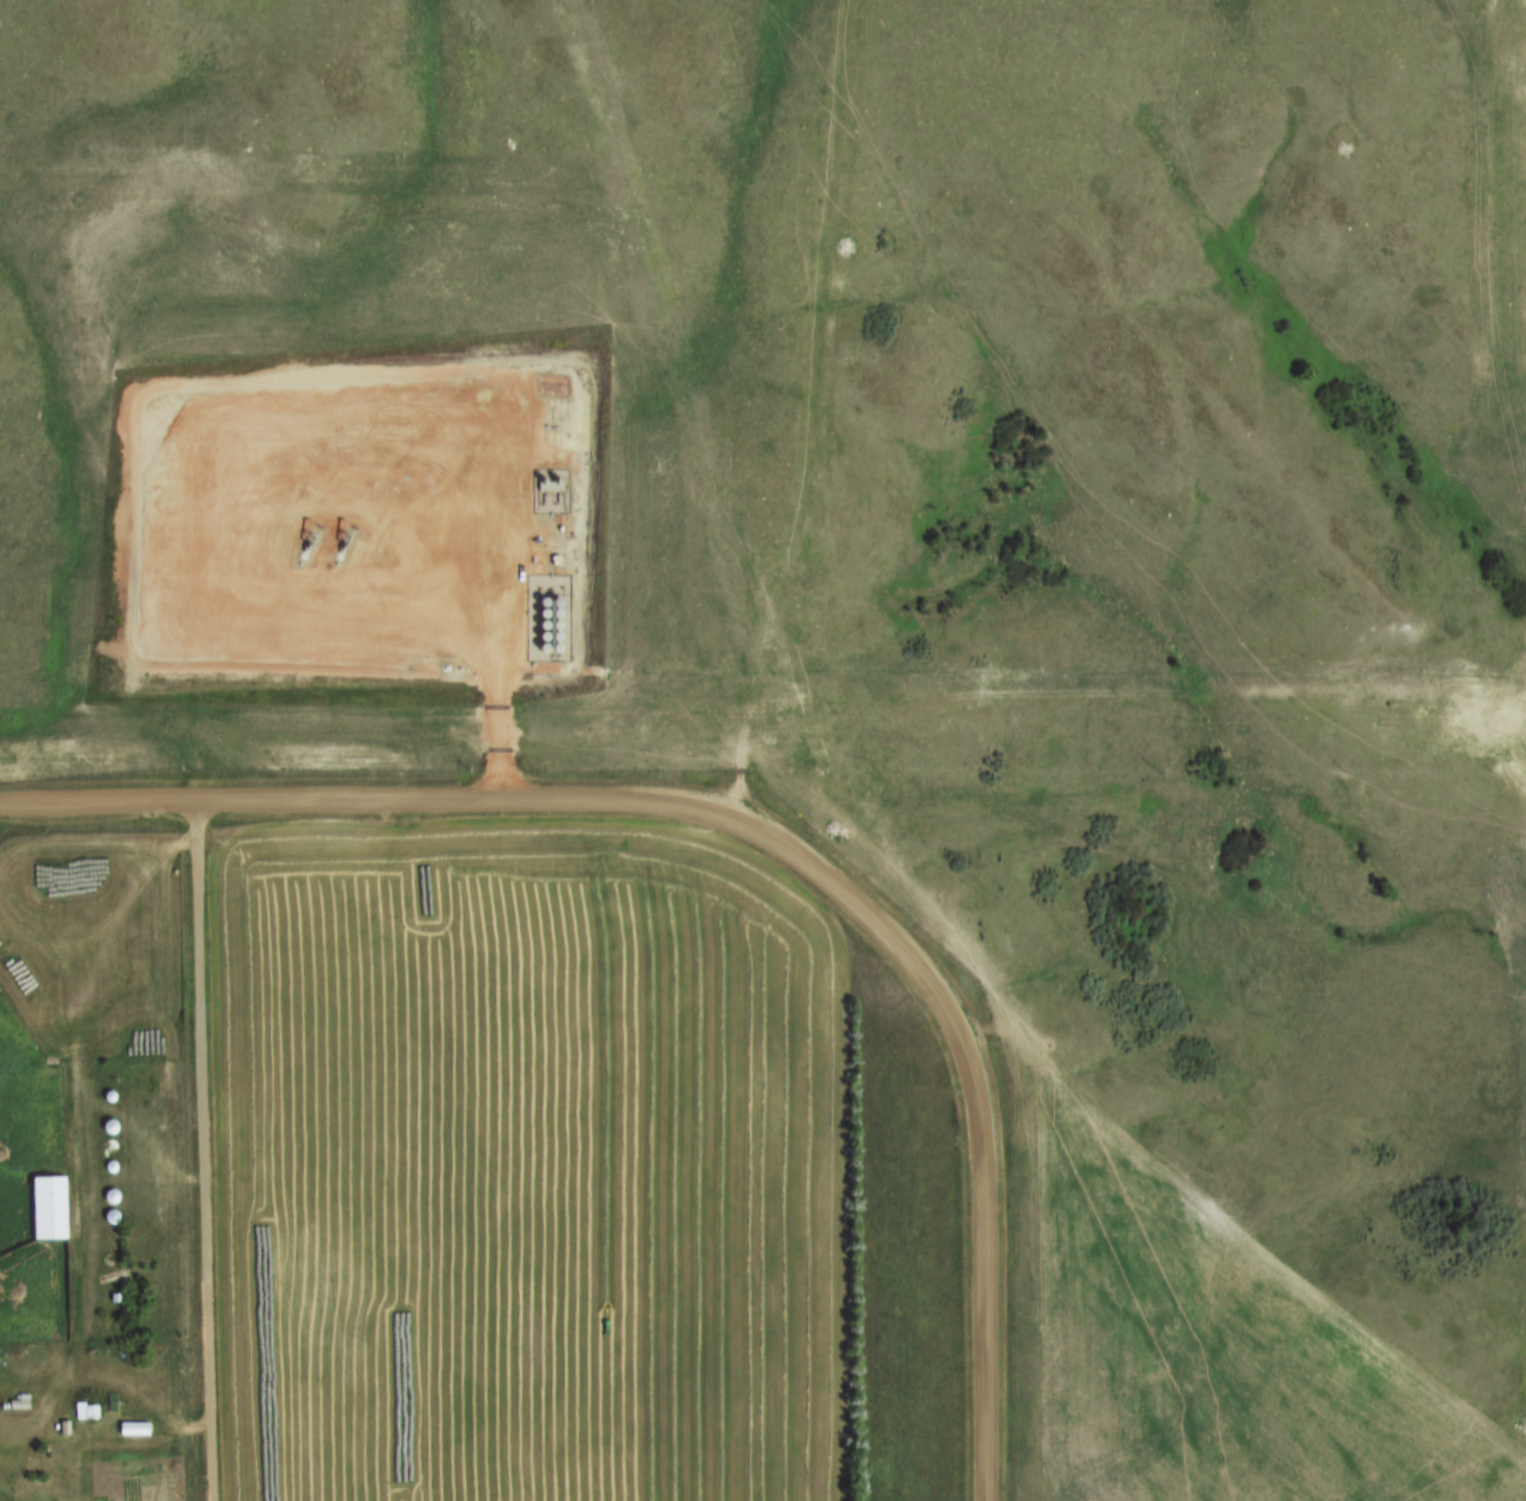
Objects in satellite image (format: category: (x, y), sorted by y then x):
road: (757, 831)
building: (106, 1128)
road: (76, 1150)
road: (203, 1150)
building: (45, 1208)
building: (17, 1404)
building: (84, 1412)

